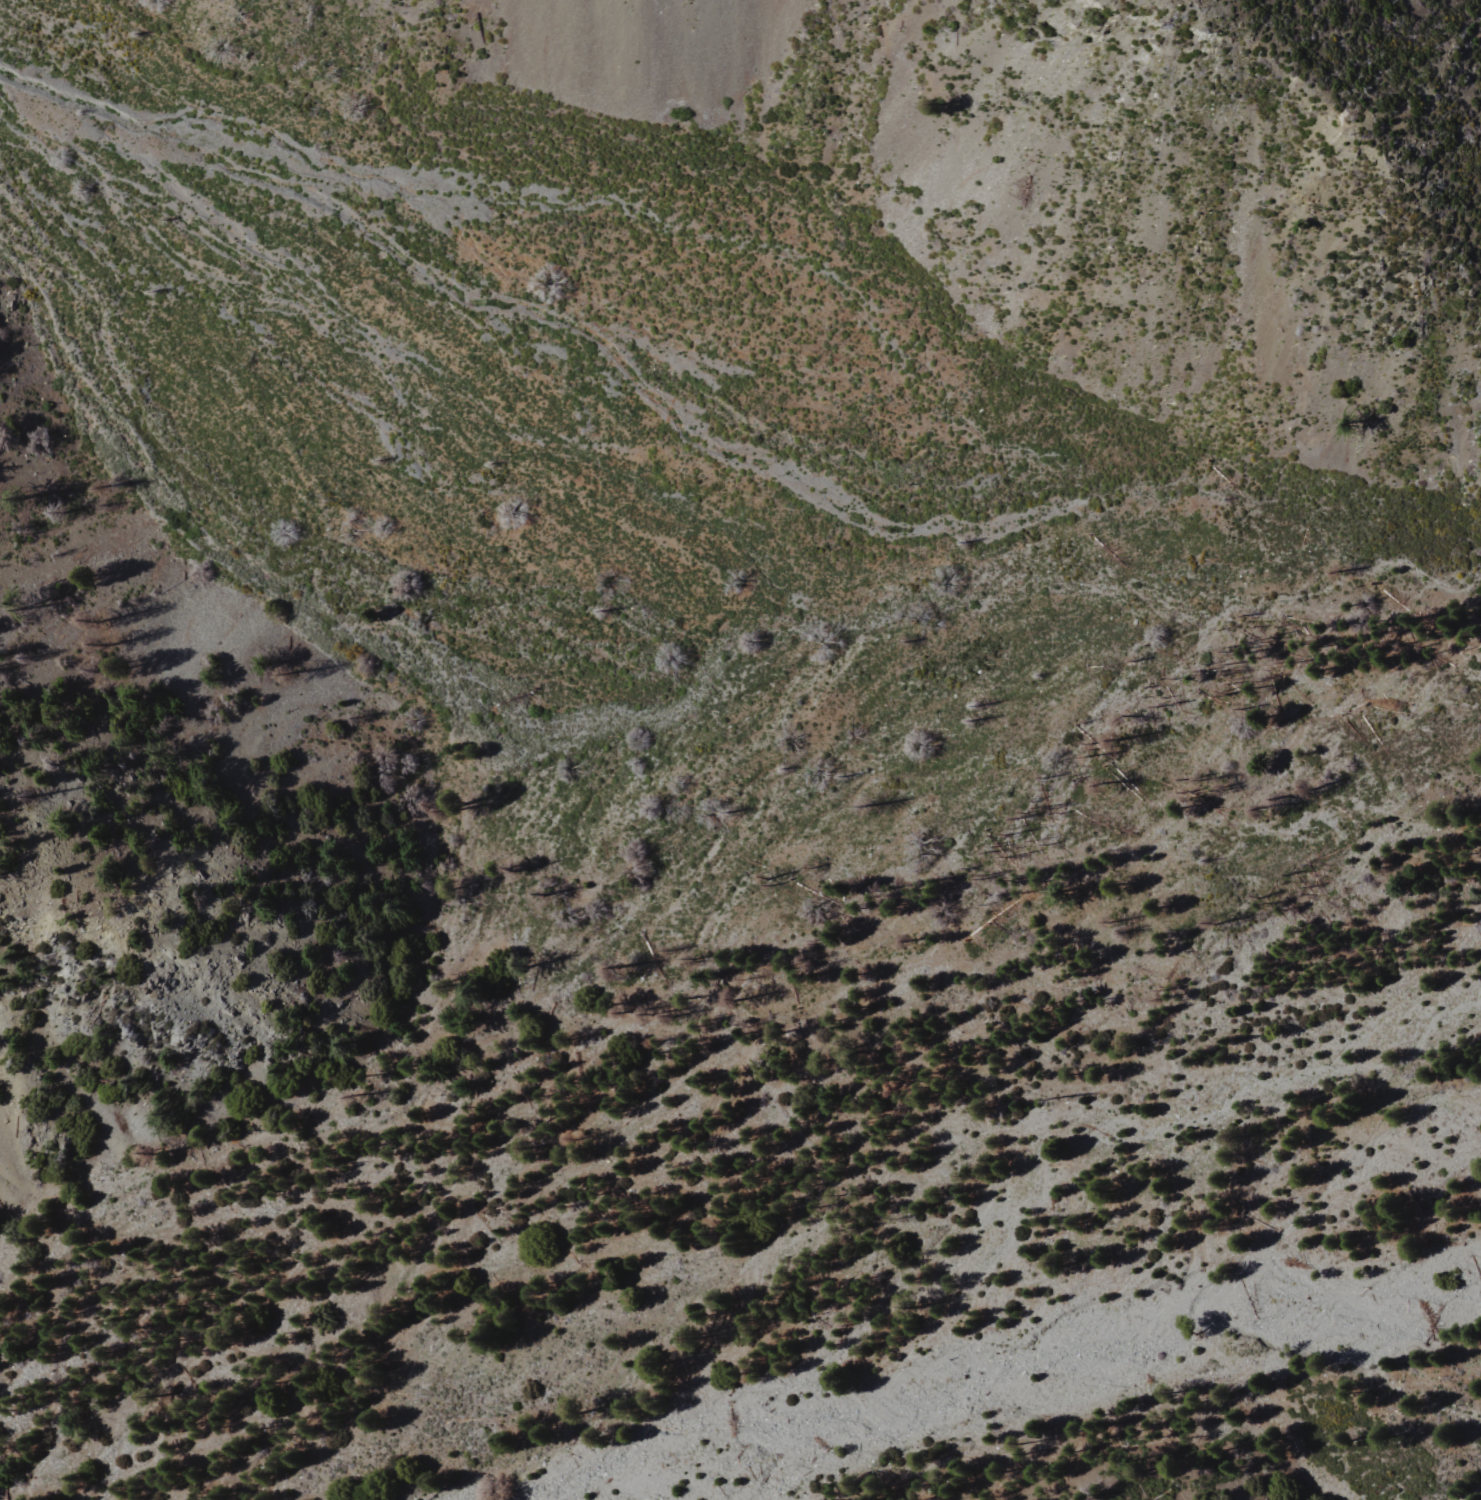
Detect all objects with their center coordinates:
road: (1470, 1493)

